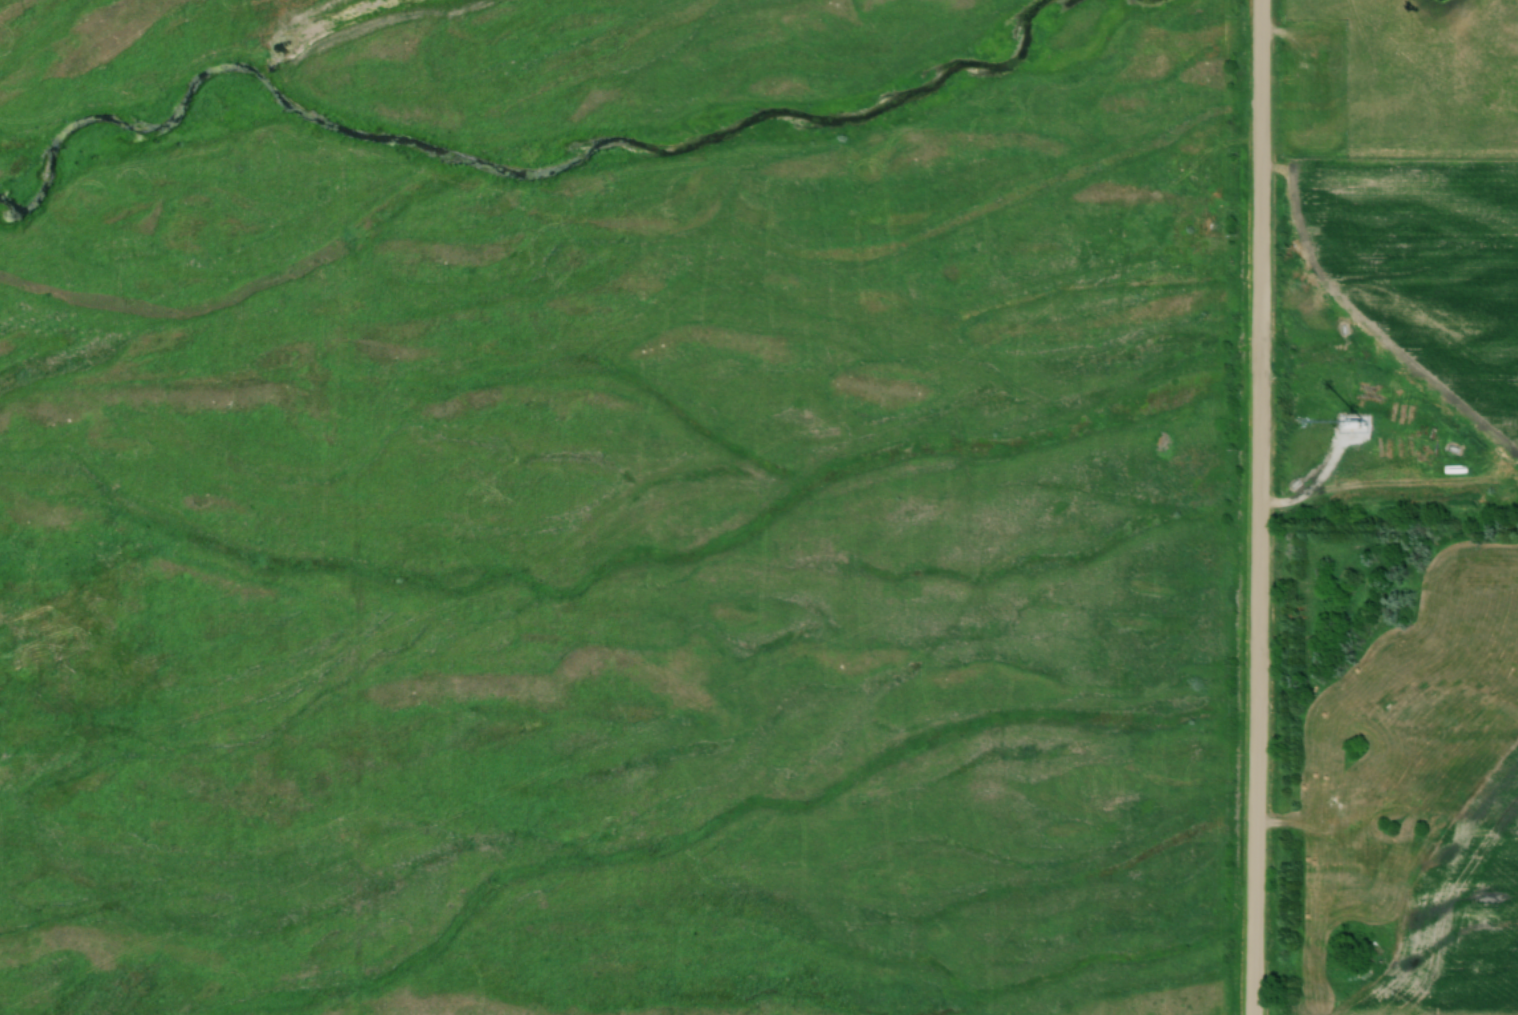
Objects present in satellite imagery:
building: (1411, 462)
road: (1312, 487)
road: (1260, 507)

